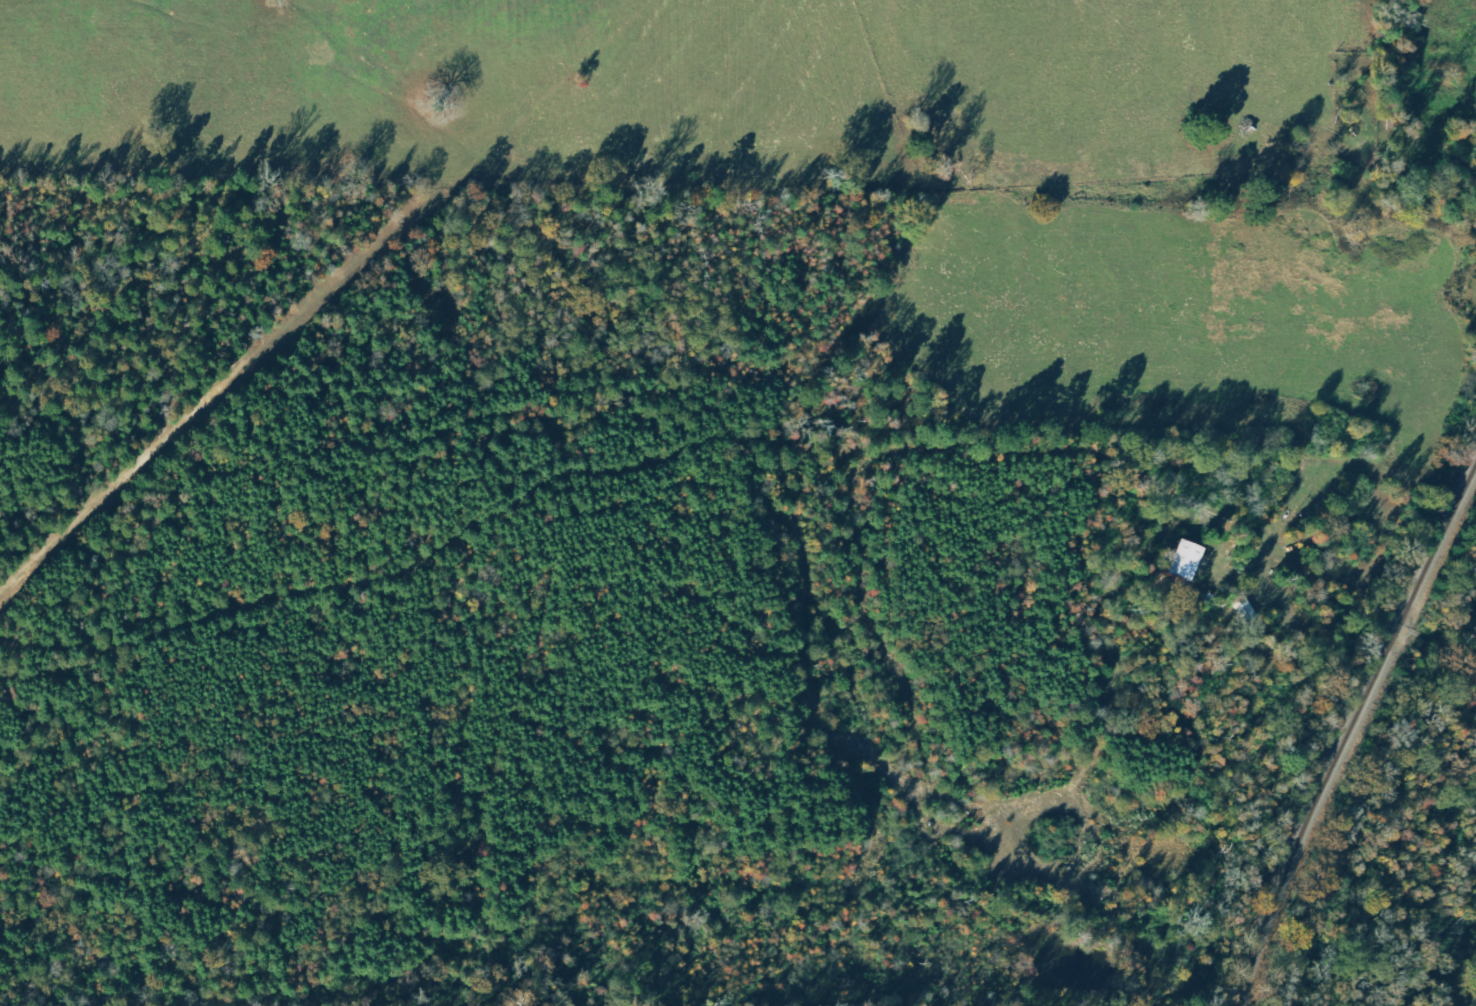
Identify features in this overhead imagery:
road: (1446, 55)
building: (1191, 560)
railway: (1352, 733)

